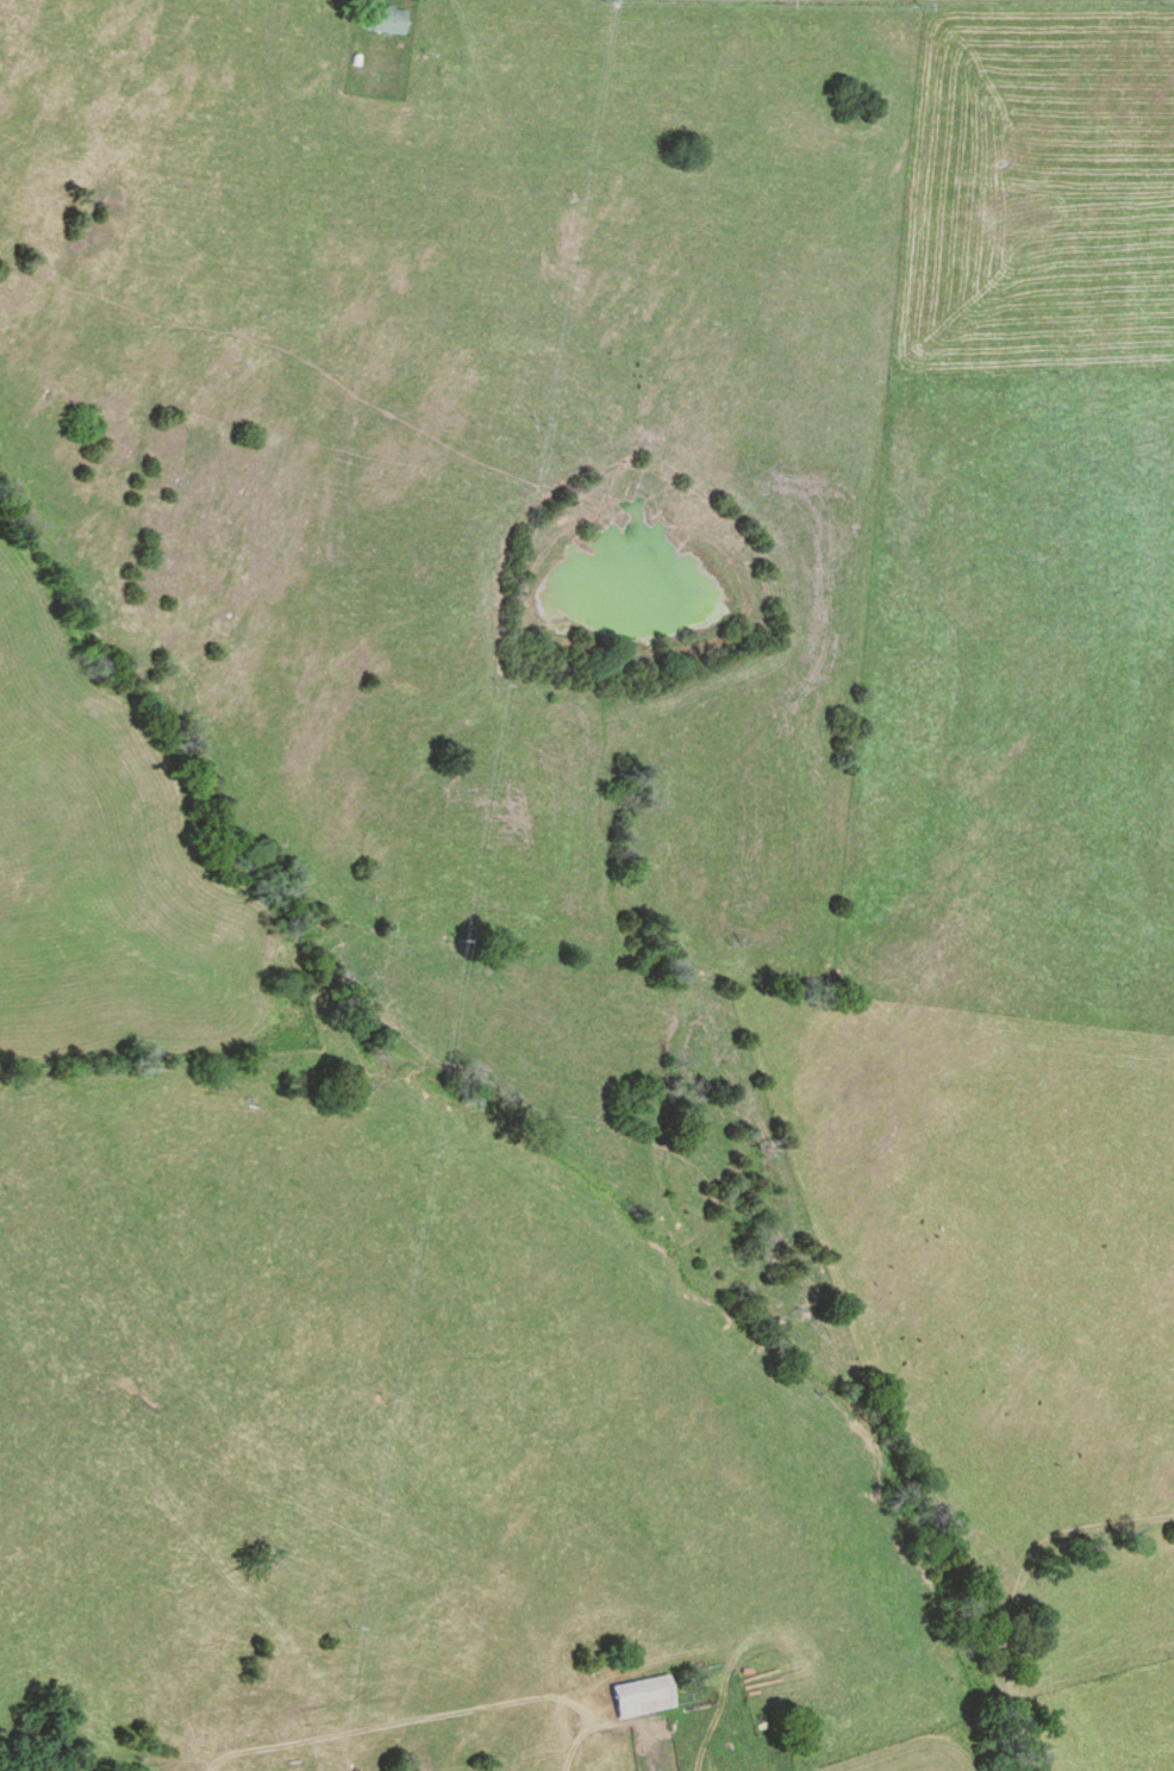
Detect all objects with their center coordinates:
building: (388, 19)
building: (644, 1695)

